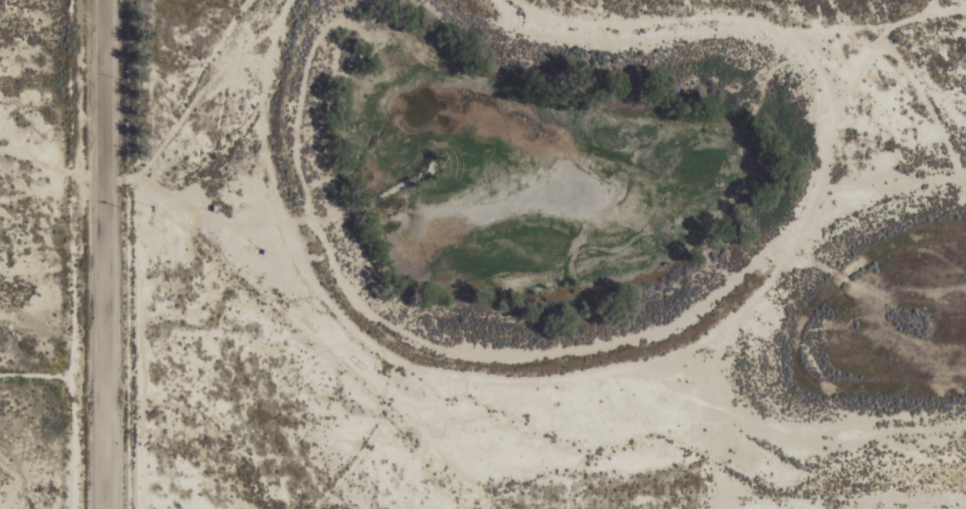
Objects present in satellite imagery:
road: (108, 254)

